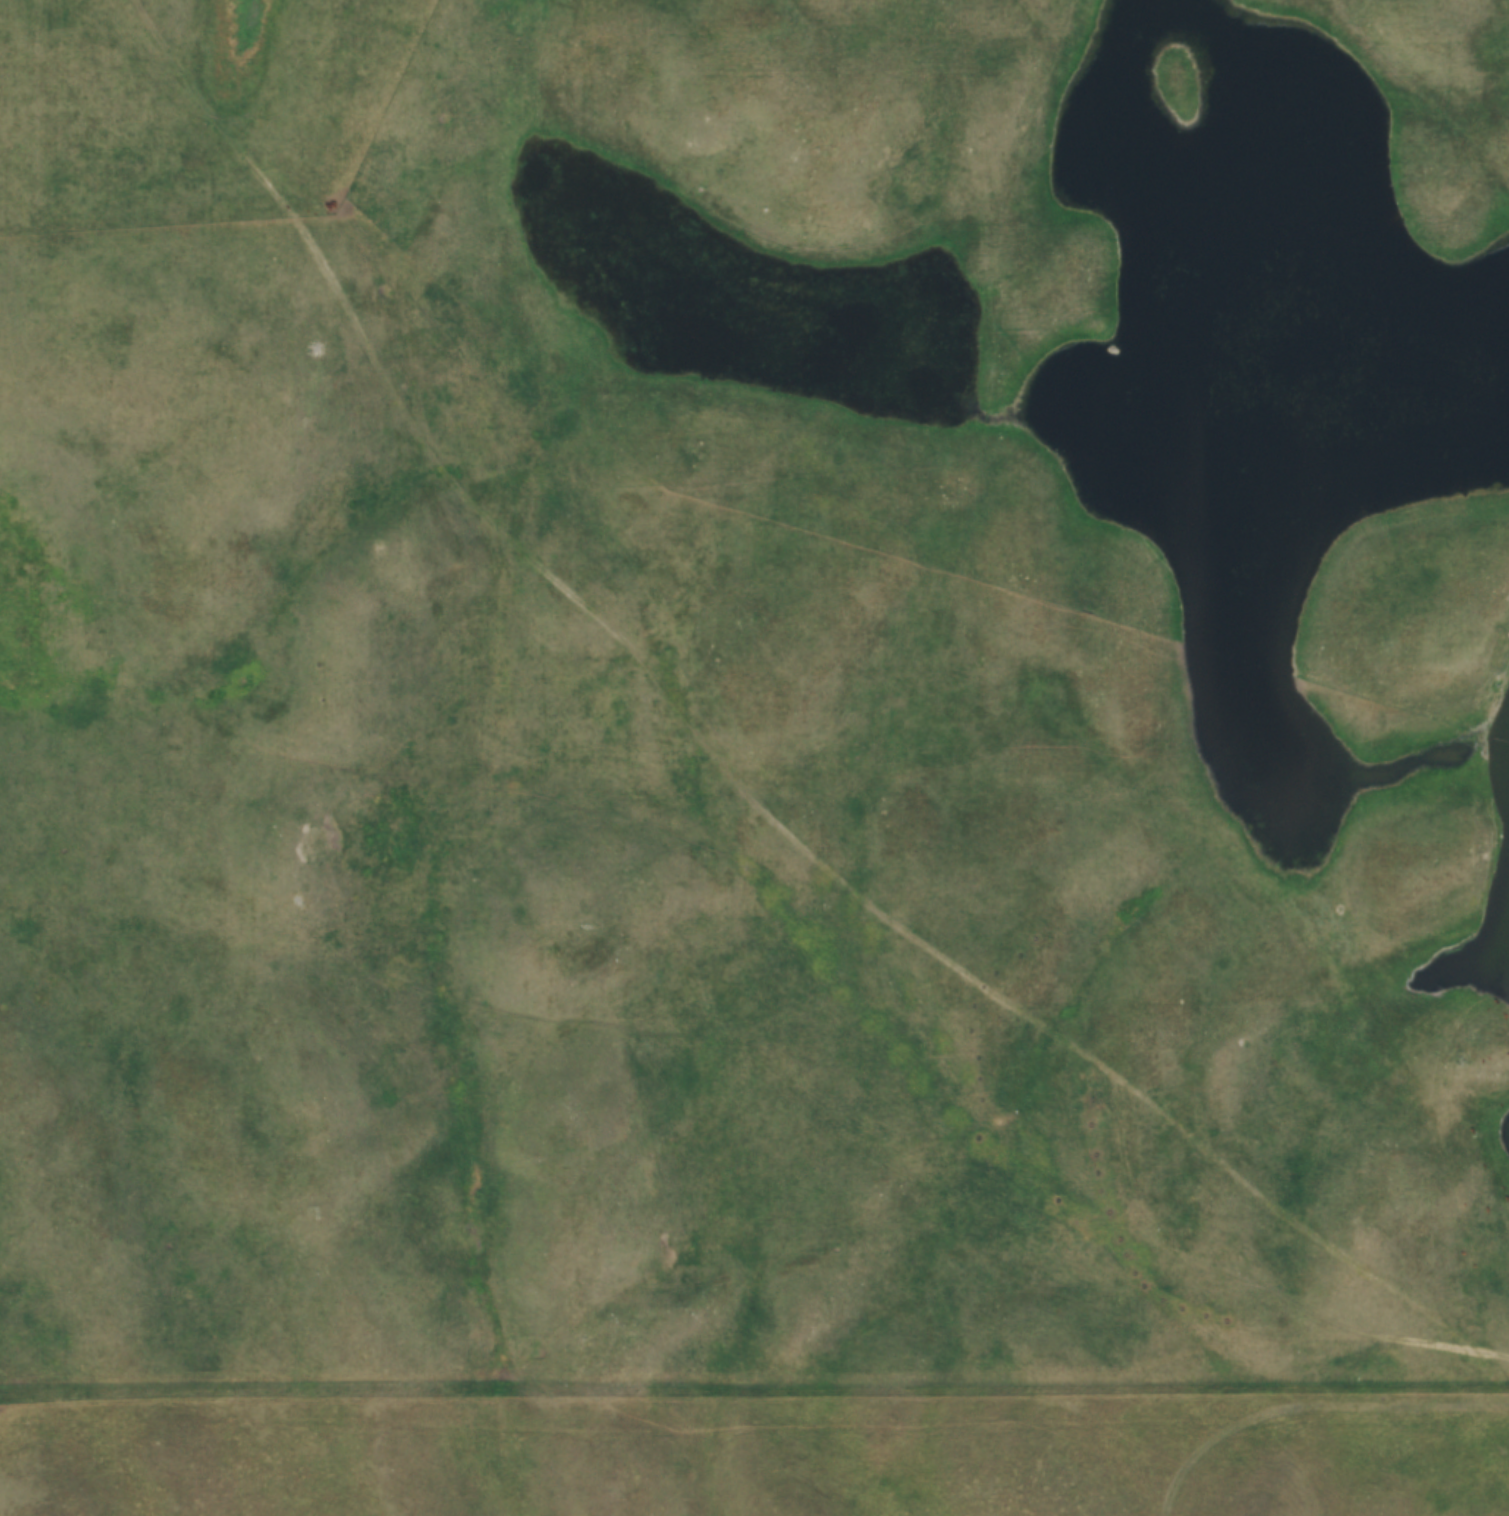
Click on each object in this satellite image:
road: (1312, 1412)

